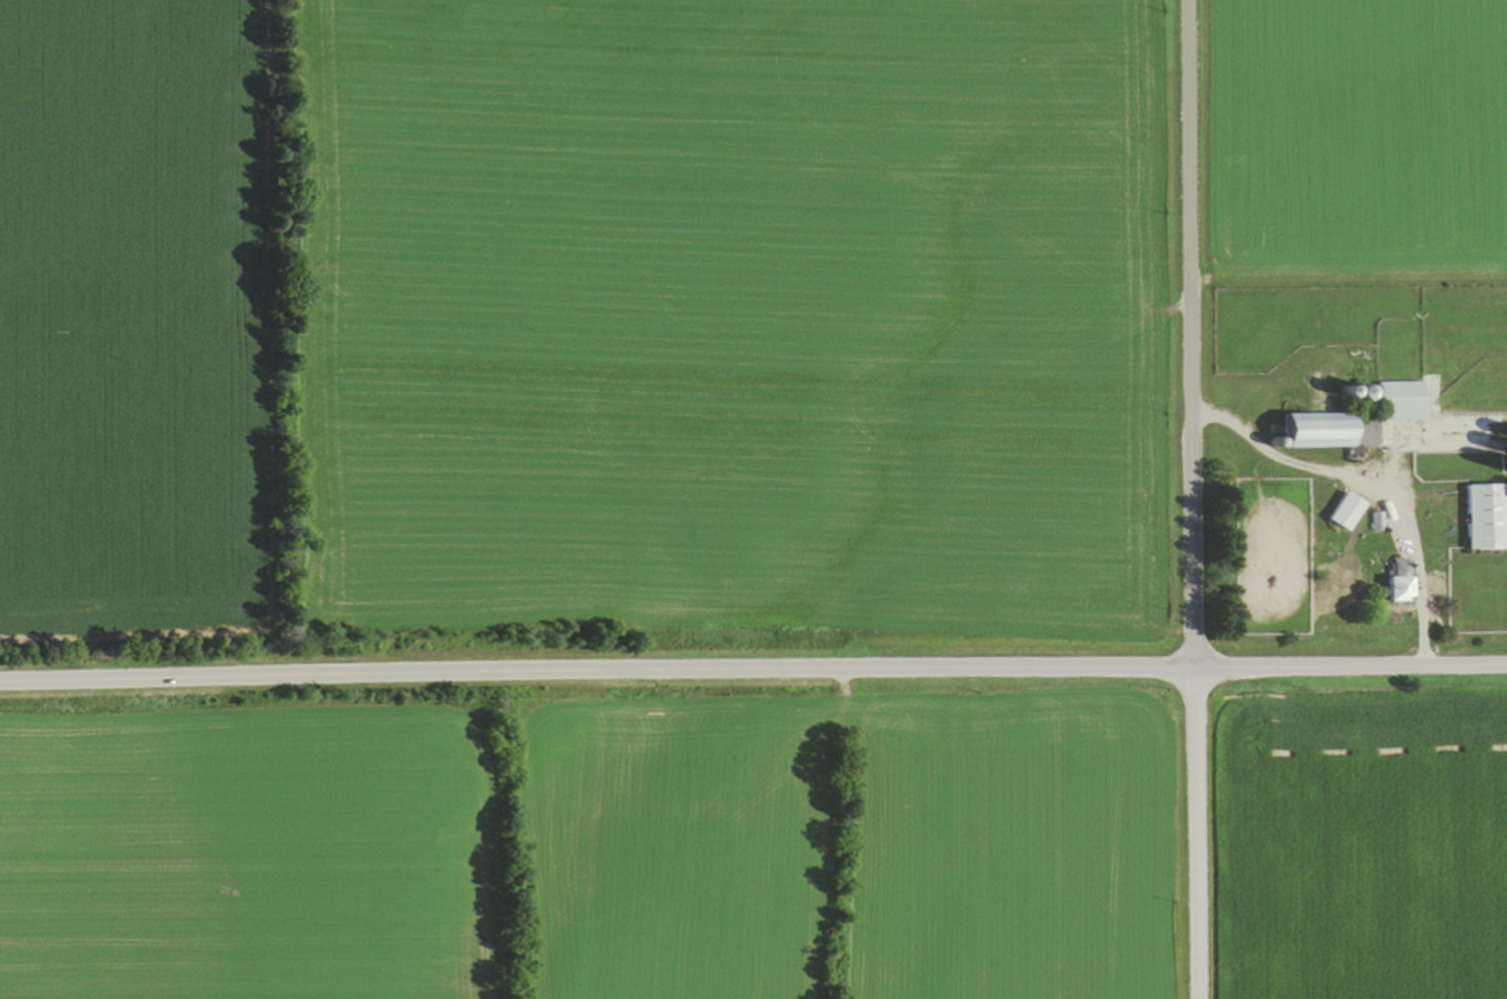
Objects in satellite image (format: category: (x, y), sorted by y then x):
road: (1191, 334)
building: (1355, 420)
road: (1372, 483)
building: (1486, 517)
building: (1399, 581)
road: (753, 669)
road: (1199, 833)

